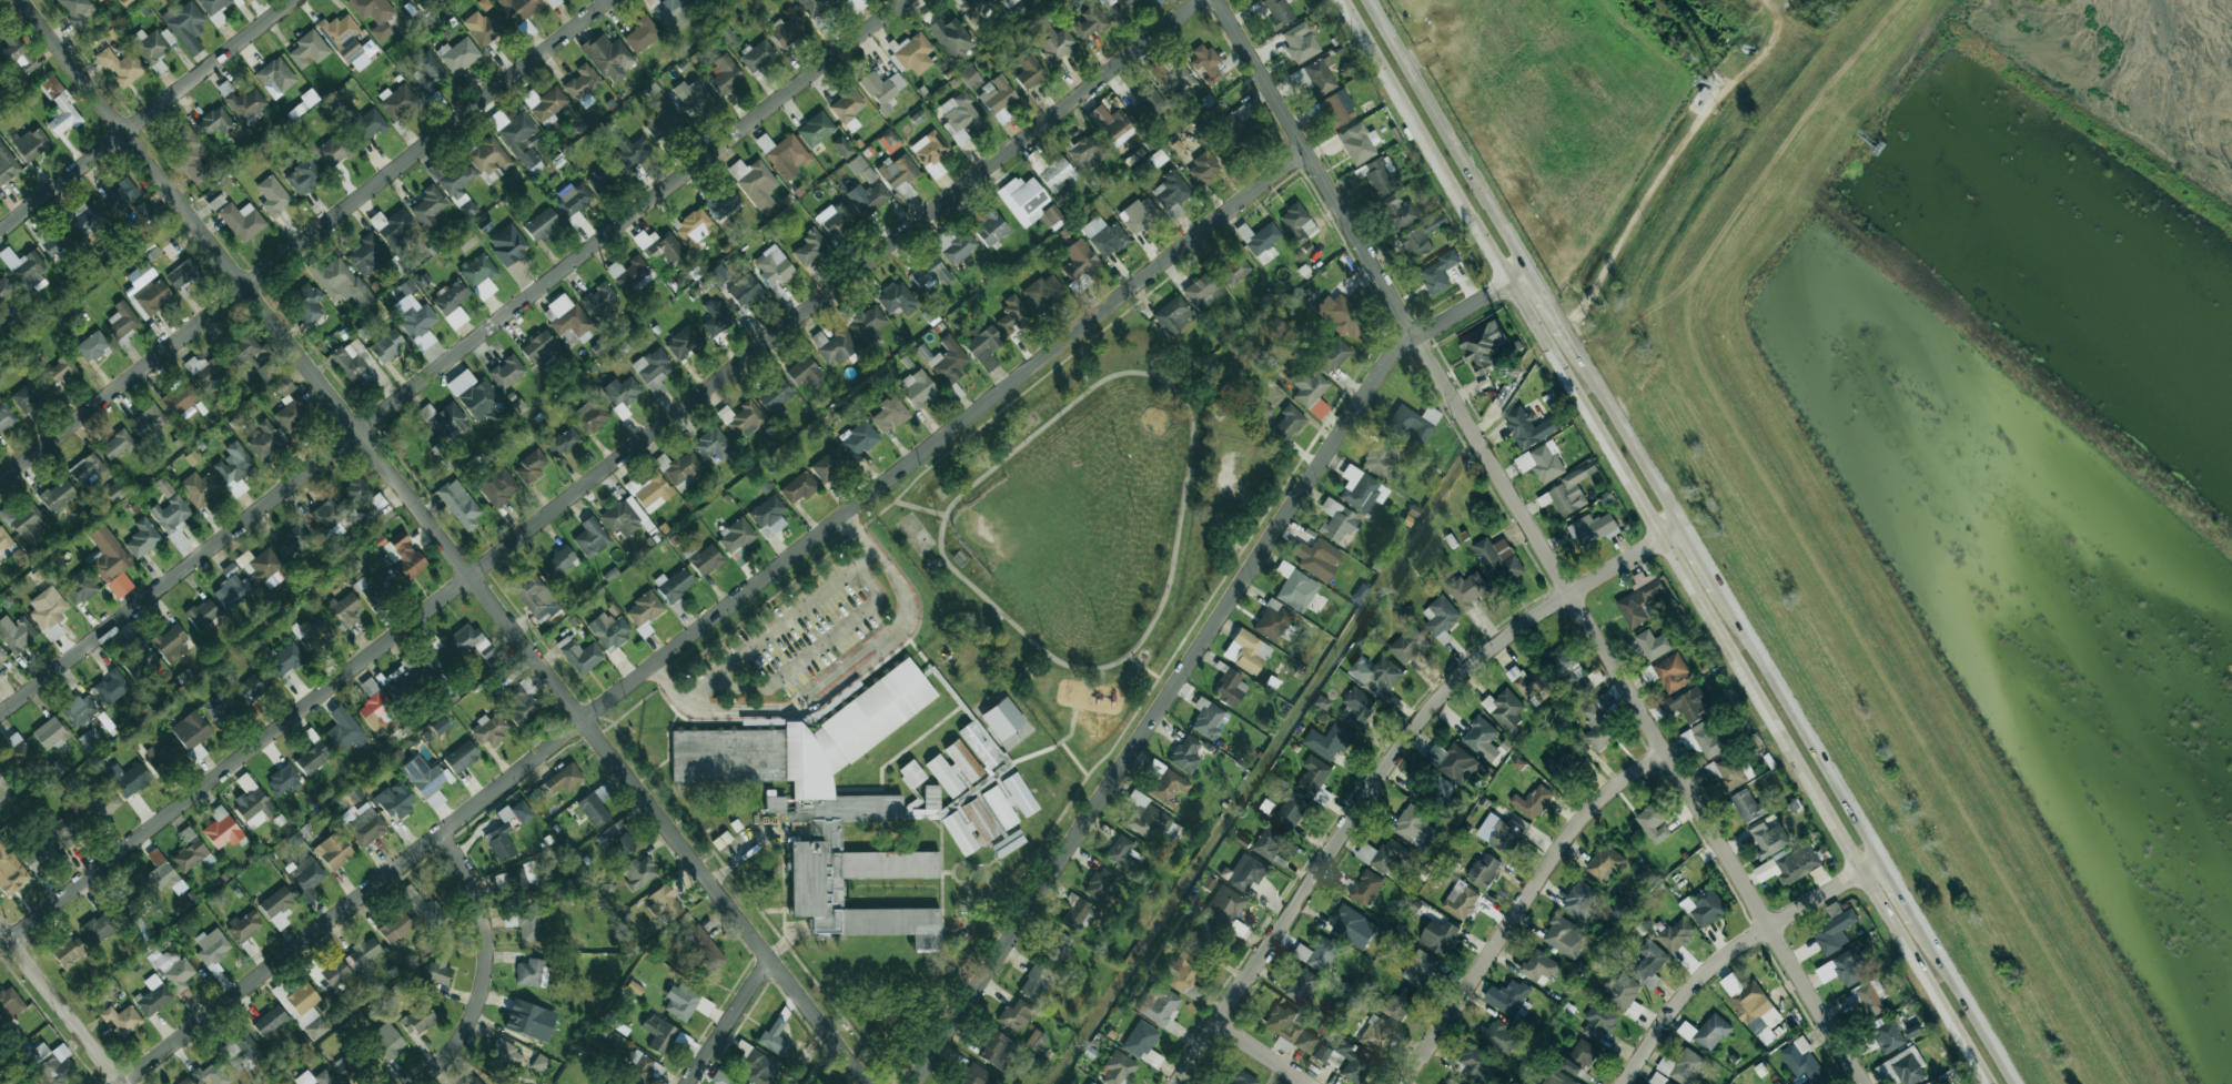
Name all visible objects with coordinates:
road: (0, 0)
building: (99, 0)
building: (248, 0)
building: (694, 0)
building: (125, 2)
building: (552, 2)
building: (427, 3)
building: (484, 3)
building: (817, 7)
building: (973, 7)
building: (1119, 7)
building: (214, 9)
building: (519, 9)
building: (75, 11)
building: (670, 11)
building: (1279, 11)
building: (374, 14)
building: (1090, 22)
building: (185, 26)
building: (487, 28)
building: (788, 28)
building: (642, 34)
building: (950, 37)
building: (347, 41)
building: (1300, 42)
building: (1056, 43)
building: (155, 44)
building: (309, 49)
building: (915, 53)
building: (458, 54)
building: (19, 55)
building: (758, 55)
building: (608, 58)
building: (1206, 63)
building: (121, 67)
building: (1028, 70)
building: (430, 72)
building: (726, 74)
building: (969, 75)
building: (1320, 75)
building: (275, 77)
building: (1176, 81)
power tower: (1707, 82)
building: (583, 84)
building: (882, 89)
building: (997, 94)
building: (694, 98)
building: (397, 101)
building: (1149, 103)
building: (248, 104)
building: (545, 104)
building: (60, 105)
building: (848, 108)
building: (1337, 108)
building: (960, 115)
road: (149, 118)
building: (215, 122)
building: (364, 123)
building: (1111, 124)
building: (663, 125)
building: (1243, 126)
building: (815, 129)
road: (1446, 134)
building: (519, 139)
building: (888, 141)
building: (1359, 143)
building: (32, 144)
building: (842, 146)
building: (929, 148)
building: (630, 150)
building: (332, 151)
building: (1088, 151)
building: (194, 156)
building: (489, 156)
road: (1679, 159)
building: (7, 164)
building: (1203, 168)
building: (862, 169)
building: (898, 171)
building: (603, 174)
building: (1057, 174)
building: (304, 175)
building: (456, 179)
building: (1171, 190)
building: (1390, 194)
building: (121, 195)
building: (272, 195)
building: (868, 197)
building: (1023, 199)
building: (573, 200)
building: (215, 202)
building: (721, 202)
building: (428, 206)
building: (467, 207)
building: (144, 210)
building: (1140, 215)
building: (1050, 216)
building: (89, 217)
building: (836, 219)
building: (576, 220)
building: (134, 221)
building: (242, 221)
building: (1297, 223)
building: (483, 224)
building: (542, 224)
building: (694, 227)
building: (990, 227)
building: (393, 230)
building: (1104, 236)
building: (1421, 236)
building: (466, 240)
road: (304, 241)
building: (60, 243)
building: (1263, 243)
building: (507, 244)
building: (660, 246)
building: (809, 247)
building: (959, 247)
building: (366, 254)
building: (1078, 260)
building: (774, 265)
building: (24, 269)
building: (1234, 270)
building: (929, 271)
building: (144, 272)
building: (1438, 272)
building: (628, 273)
building: (182, 274)
building: (479, 275)
building: (340, 282)
building: (4, 288)
building: (745, 290)
building: (1202, 291)
building: (1043, 292)
building: (150, 296)
building: (897, 298)
building: (599, 300)
road: (1545, 300)
building: (306, 301)
building: (451, 303)
building: (1012, 315)
building: (1173, 315)
building: (1340, 315)
building: (566, 317)
building: (715, 317)
building: (415, 320)
building: (122, 324)
building: (868, 324)
building: (683, 342)
building: (386, 345)
building: (1483, 345)
building: (92, 346)
building: (834, 346)
building: (984, 346)
building: (538, 347)
building: (1332, 356)
building: (251, 357)
road: (454, 357)
building: (352, 361)
building: (948, 361)
power tower: (1521, 363)
building: (653, 369)
road: (1084, 369)
building: (59, 372)
building: (204, 372)
building: (506, 372)
building: (805, 372)
building: (283, 385)
building: (918, 387)
building: (1311, 393)
building: (29, 394)
building: (620, 394)
building: (474, 395)
building: (180, 397)
building: (775, 397)
building: (519, 406)
building: (1263, 409)
building: (890, 413)
building: (292, 414)
building: (6, 416)
building: (590, 416)
building: (743, 419)
building: (444, 421)
building: (149, 422)
building: (1412, 422)
building: (1287, 423)
road: (1622, 426)
building: (1527, 427)
building: (858, 438)
building: (264, 439)
building: (563, 442)
building: (118, 444)
building: (713, 445)
road: (955, 446)
building: (191, 457)
building: (1382, 458)
building: (1542, 462)
building: (829, 464)
road: (918, 465)
building: (531, 466)
building: (234, 467)
building: (680, 468)
building: (87, 469)
road: (600, 470)
building: (497, 486)
building: (164, 487)
building: (798, 487)
building: (201, 488)
building: (1360, 488)
building: (1571, 489)
building: (114, 490)
building: (650, 492)
building: (57, 495)
building: (362, 497)
building: (459, 504)
road: (918, 507)
building: (171, 513)
building: (768, 515)
building: (326, 517)
building: (624, 517)
road: (1181, 518)
building: (1336, 520)
building: (27, 521)
park: (1092, 526)
building: (1593, 528)
park: (916, 533)
building: (735, 536)
building: (590, 537)
building: (142, 538)
building: (293, 541)
road: (1538, 543)
road: (1659, 543)
road: (443, 544)
building: (9, 546)
building: (108, 555)
building: (403, 556)
road: (1697, 556)
building: (1317, 558)
building: (706, 559)
building: (1498, 559)
building: (558, 563)
building: (262, 568)
building: (674, 585)
building: (79, 587)
building: (377, 587)
building: (1468, 589)
power tower: (1374, 590)
building: (232, 591)
building: (1359, 592)
building: (535, 597)
building: (1639, 598)
building: (48, 610)
building: (344, 610)
building: (644, 611)
building: (202, 614)
road: (714, 615)
building: (1441, 618)
building: (1272, 620)
road: (776, 628)
building: (609, 630)
building: (17, 634)
building: (313, 635)
building: (468, 640)
building: (171, 644)
building: (1654, 644)
building: (1407, 645)
road: (812, 649)
building: (1246, 651)
road: (1195, 652)
building: (579, 655)
building: (2, 658)
building: (138, 659)
building: (286, 659)
building: (436, 661)
building: (1565, 665)
building: (1672, 672)
building: (1377, 675)
road: (836, 676)
road: (1098, 680)
building: (403, 682)
building: (1529, 683)
building: (254, 685)
building: (111, 686)
building: (1230, 688)
building: (219, 705)
building: (519, 705)
building: (1688, 705)
building: (375, 706)
building: (1356, 708)
building: (1504, 708)
building: (80, 710)
building: (1002, 718)
building: (1208, 719)
building: (1599, 725)
road: (1800, 725)
building: (440, 726)
building: (343, 729)
building: (489, 729)
road: (1071, 729)
building: (191, 732)
building: (52, 736)
building: (90, 738)
building: (1705, 739)
building: (1482, 740)
building: (1327, 741)
building: (980, 743)
building: (1185, 754)
building: (160, 757)
building: (461, 757)
building: (19, 758)
building: (313, 758)
building: (1452, 761)
road: (1387, 766)
building: (1562, 767)
building: (953, 768)
building: (1728, 771)
building: (911, 773)
building: (1313, 776)
building: (129, 778)
building: (564, 779)
building: (283, 780)
building: (426, 780)
building: (3, 789)
building: (1019, 794)
building: (352, 797)
building: (396, 799)
building: (1532, 801)
building: (101, 802)
building: (826, 803)
building: (929, 803)
building: (595, 806)
building: (1747, 806)
building: (253, 807)
building: (999, 807)
power tower: (1230, 808)
building: (1291, 809)
building: (516, 812)
building: (1152, 820)
building: (1654, 821)
building: (364, 824)
building: (969, 827)
building: (1414, 827)
building: (221, 828)
building: (67, 829)
building: (1499, 832)
building: (1768, 838)
building: (499, 842)
building: (616, 842)
building: (1269, 842)
building: (334, 850)
building: (190, 851)
building: (38, 854)
building: (1388, 854)
road: (736, 860)
building: (1605, 863)
building: (1791, 865)
building: (9, 870)
building: (1484, 870)
building: (638, 872)
building: (1245, 872)
building: (162, 875)
building: (305, 877)
building: (526, 880)
building: (1099, 883)
building: (1366, 888)
road: (1900, 889)
building: (1579, 900)
building: (1461, 901)
building: (666, 902)
building: (124, 904)
road: (1522, 904)
building: (1224, 905)
building: (277, 906)
building: (423, 906)
building: (1704, 906)
building: (1078, 915)
building: (244, 925)
building: (527, 926)
building: (1353, 926)
building: (99, 928)
building: (395, 928)
building: (1835, 929)
building: (1676, 934)
building: (1437, 936)
building: (1565, 936)
building: (1205, 939)
building: (422, 945)
building: (211, 946)
building: (703, 948)
building: (1057, 948)
road: (1730, 948)
building: (68, 952)
building: (364, 953)
building: (1317, 954)
building: (1649, 963)
road: (488, 964)
building: (1847, 965)
building: (1539, 966)
building: (1418, 968)
building: (173, 969)
building: (1182, 970)
building: (532, 972)
building: (329, 973)
building: (437, 973)
building: (1034, 982)
building: (1302, 985)
building: (1623, 991)
building: (152, 995)
building: (1509, 999)
building: (1867, 999)
road: (1967, 1000)
building: (681, 1001)
building: (1401, 1004)
road: (61, 1006)
building: (1160, 1009)
building: (305, 1011)
building: (1756, 1011)
building: (1016, 1015)
building: (416, 1019)
building: (122, 1020)
building: (529, 1020)
road: (724, 1020)
building: (1599, 1021)
building: (270, 1023)
building: (1291, 1027)
building: (1706, 1032)
building: (1376, 1033)
building: (659, 1034)
building: (1501, 1035)
building: (1888, 1036)
building: (775, 1037)
building: (1034, 1040)
building: (386, 1041)
power tower: (1078, 1045)
building: (239, 1048)
building: (997, 1050)
road: (1263, 1054)
building: (504, 1056)
building: (1580, 1056)
building: (1343, 1060)
building: (539, 1062)
building: (1472, 1063)
building: (1804, 1063)
building: (1681, 1066)
building: (344, 1067)
building: (759, 1067)
building: (1119, 1068)
building: (1901, 1068)
building: (645, 1070)
building: (61, 1072)
building: (212, 1074)
building: (976, 1075)
building: (1242, 1077)
building: (315, 1078)
building: (721, 1078)
building: (1556, 1078)
building: (1658, 1080)
building: (474, 1081)
building: (29, 1082)
building: (186, 1082)
building: (1448, 1082)
building: (1090, 1083)
building: (1930, 1083)

